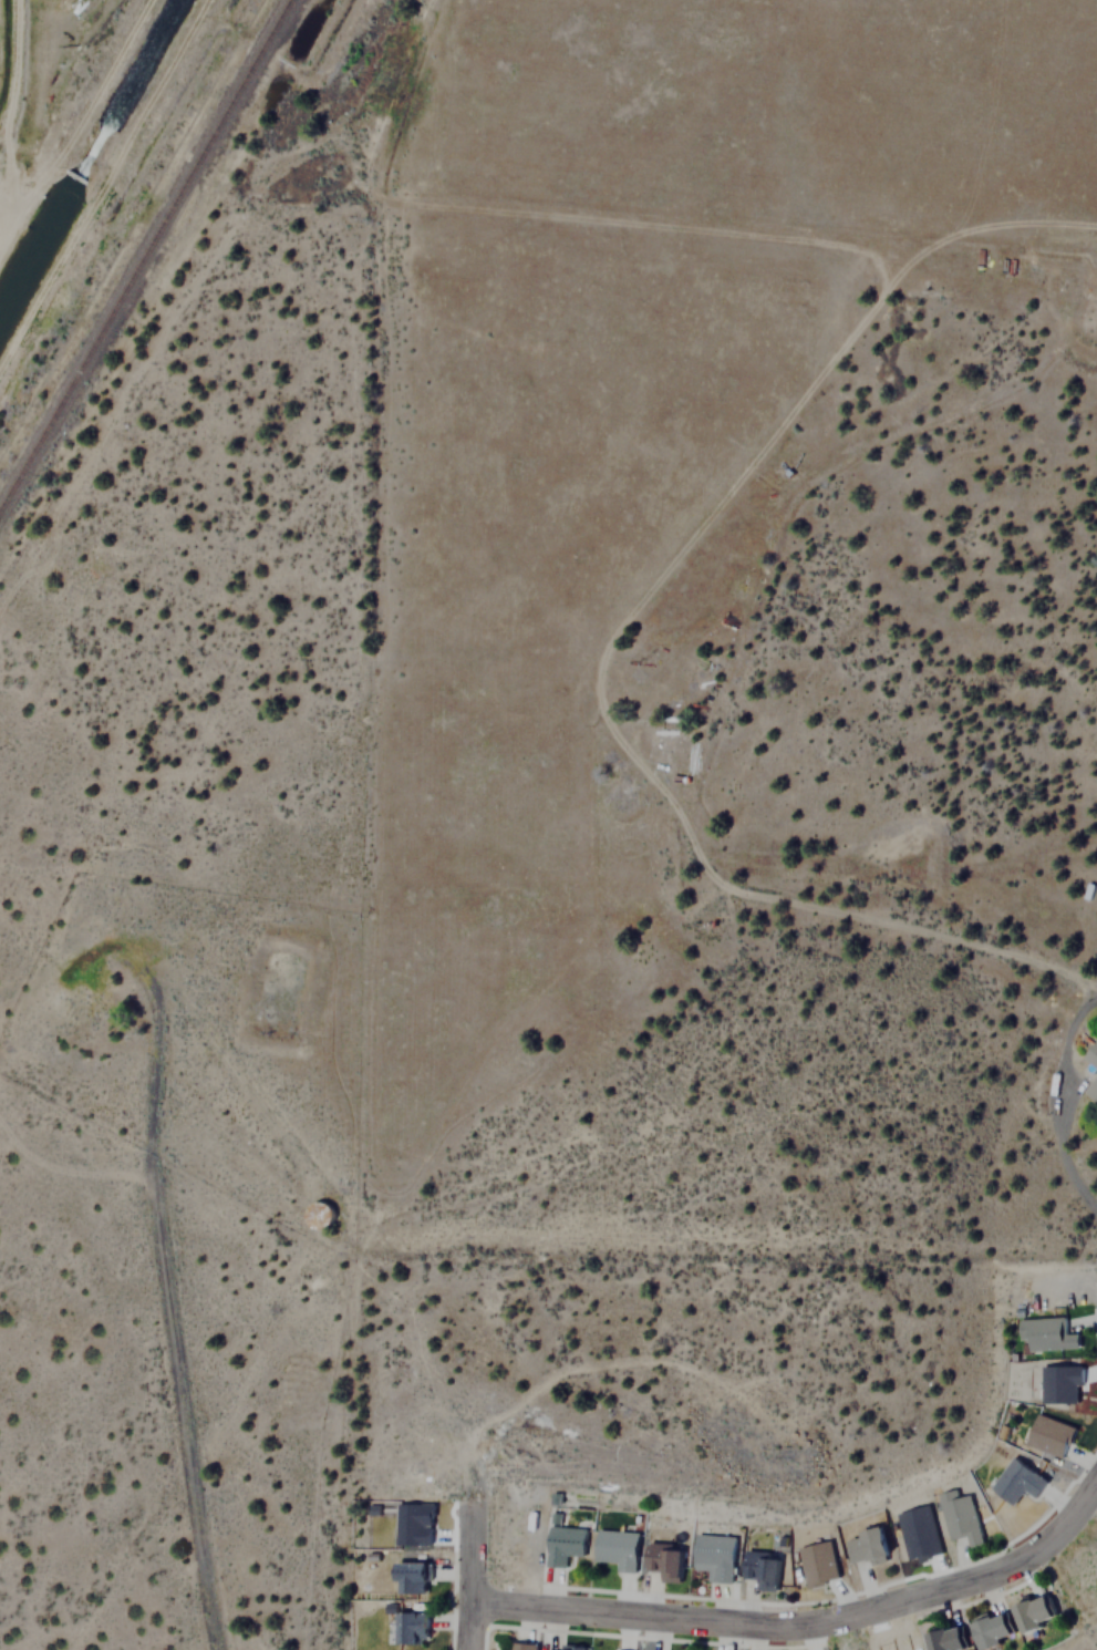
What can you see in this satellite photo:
railway: (147, 260)
road: (189, 299)
building: (1090, 1053)
road: (239, 1077)
building: (1093, 1085)
road: (1067, 1163)
water tower: (317, 1214)
road: (168, 1299)
building: (1044, 1333)
building: (1058, 1383)
building: (1048, 1435)
building: (1016, 1481)
building: (960, 1516)
building: (414, 1523)
building: (918, 1533)
building: (563, 1544)
building: (865, 1545)
building: (617, 1548)
building: (714, 1556)
building: (663, 1560)
building: (817, 1564)
building: (760, 1568)
building: (408, 1577)
road: (474, 1582)
building: (1029, 1611)
road: (807, 1623)
building: (410, 1627)
building: (986, 1630)
building: (942, 1639)
building: (519, 1646)
building: (558, 1648)

